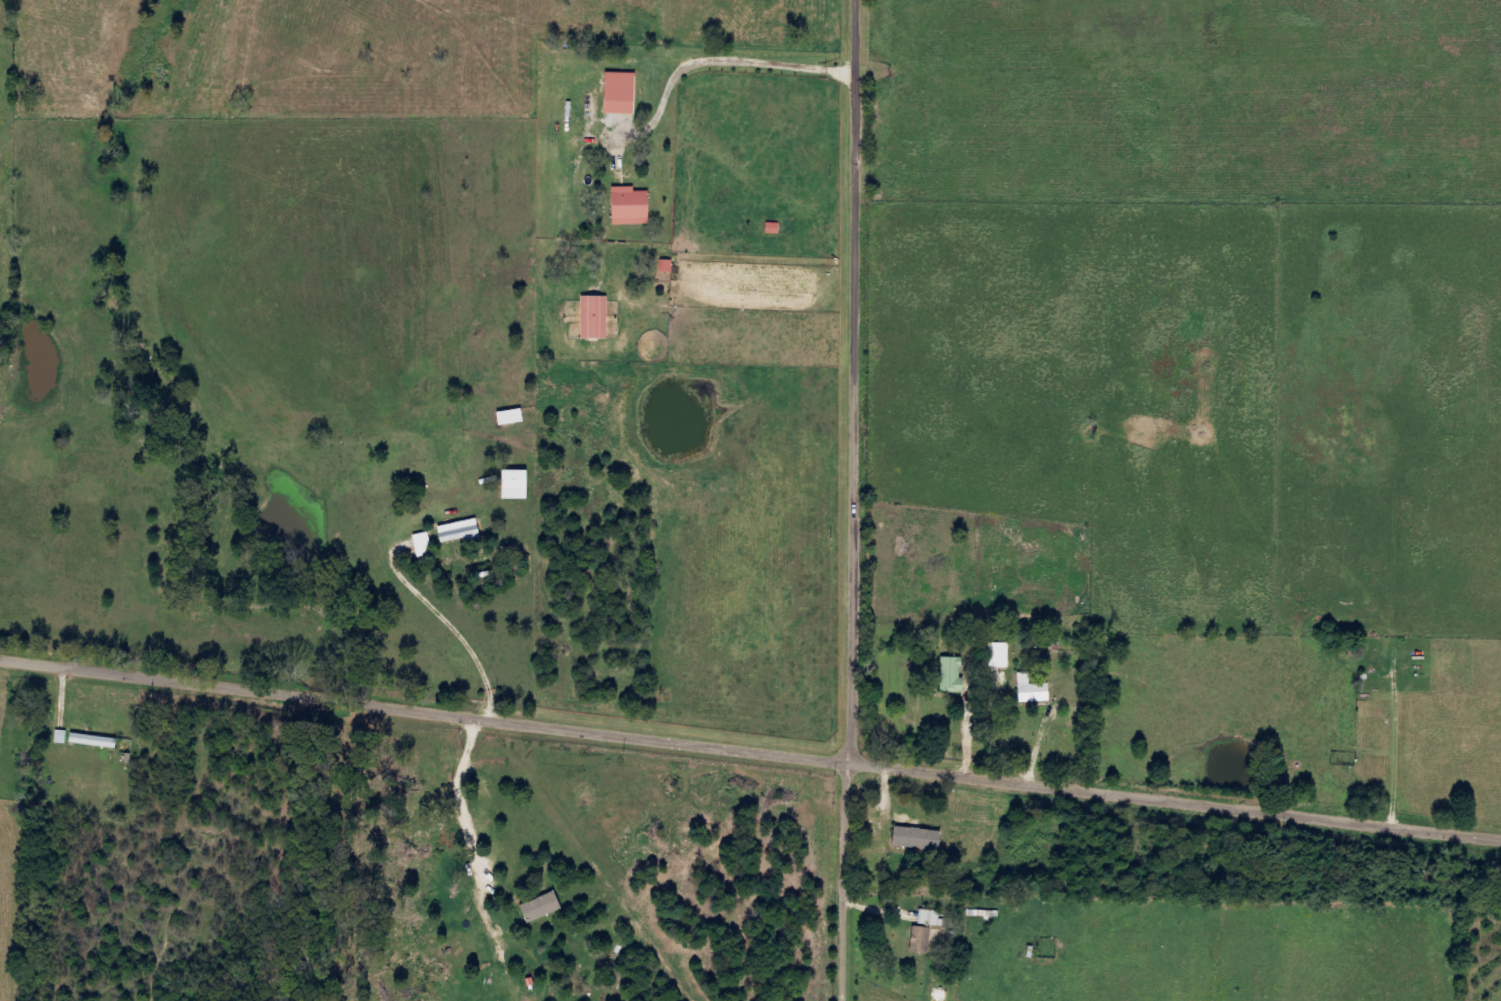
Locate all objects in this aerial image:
building: (619, 93)
building: (630, 206)
building: (669, 266)
building: (595, 317)
road: (849, 384)
building: (517, 417)
building: (522, 484)
building: (464, 531)
building: (428, 544)
building: (1005, 657)
building: (956, 676)
building: (1038, 691)
building: (66, 737)
building: (99, 741)
road: (750, 757)
building: (924, 839)
road: (843, 885)
building: (547, 908)
building: (932, 932)

